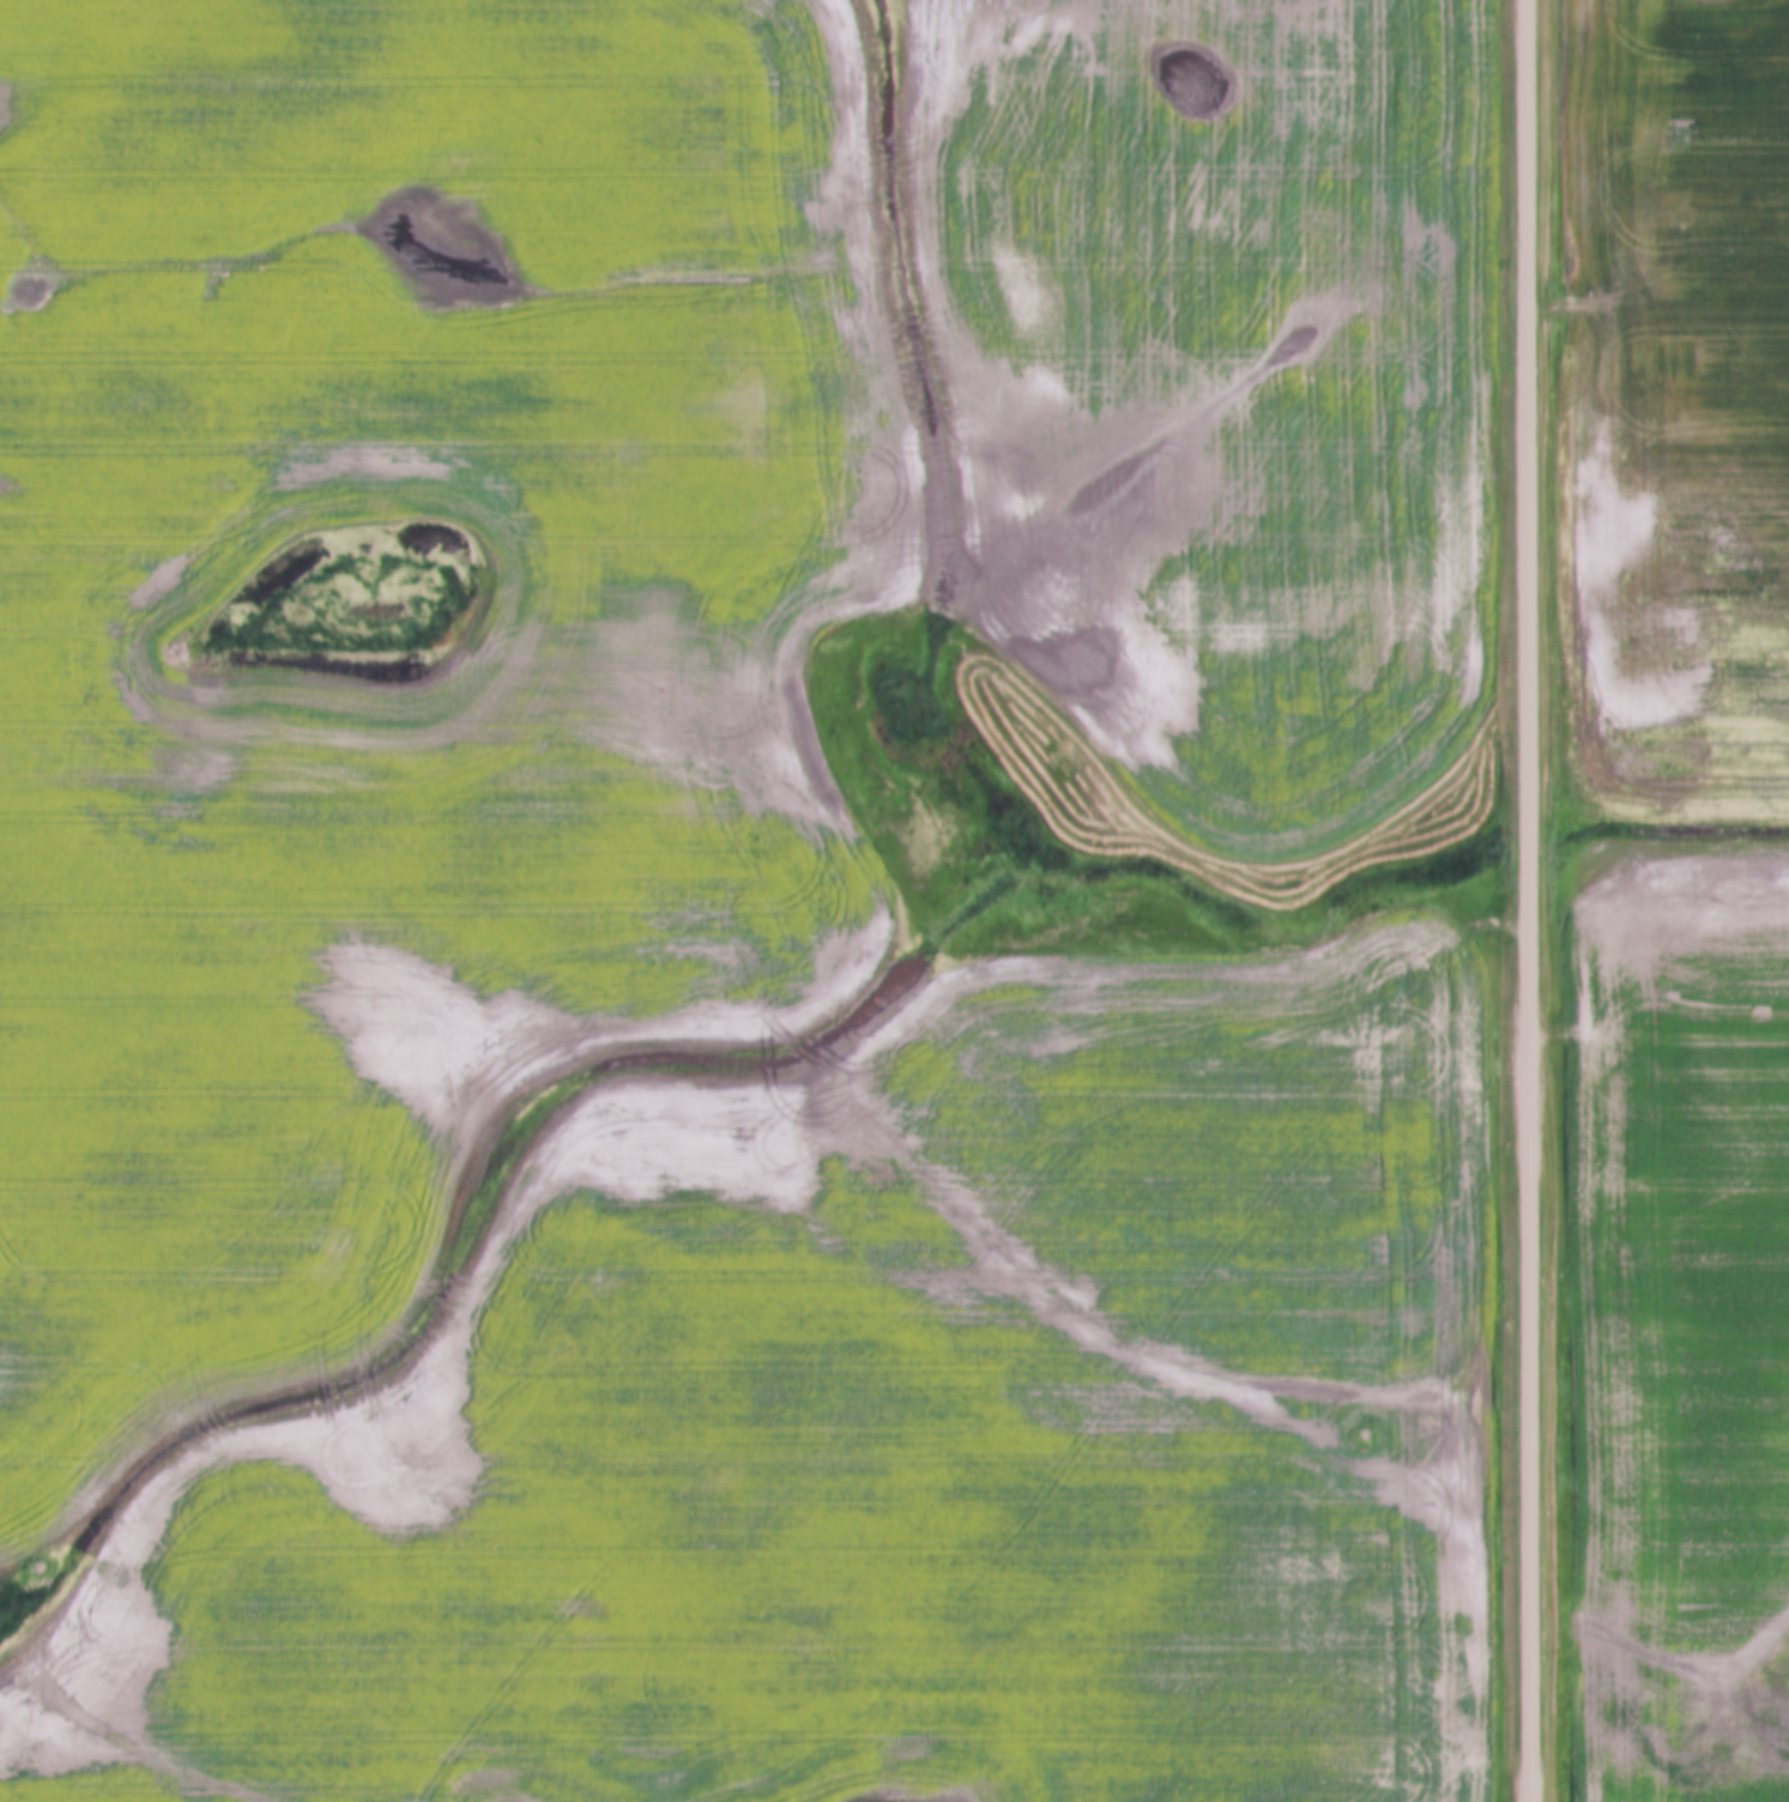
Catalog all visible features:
road: (1529, 901)

